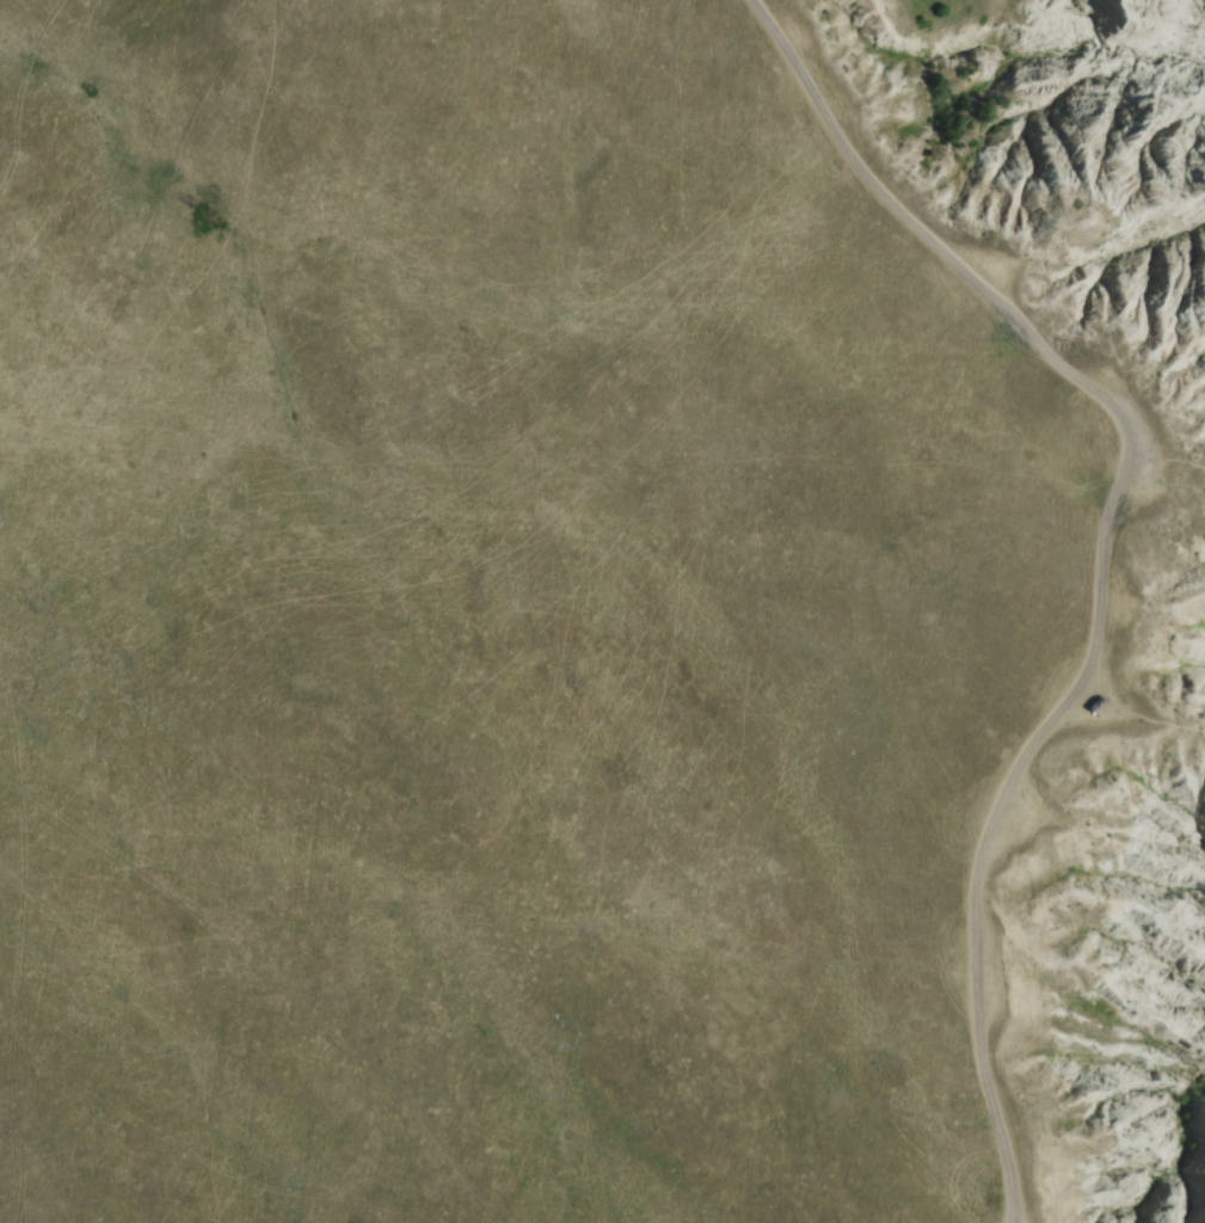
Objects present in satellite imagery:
road: (1107, 552)

